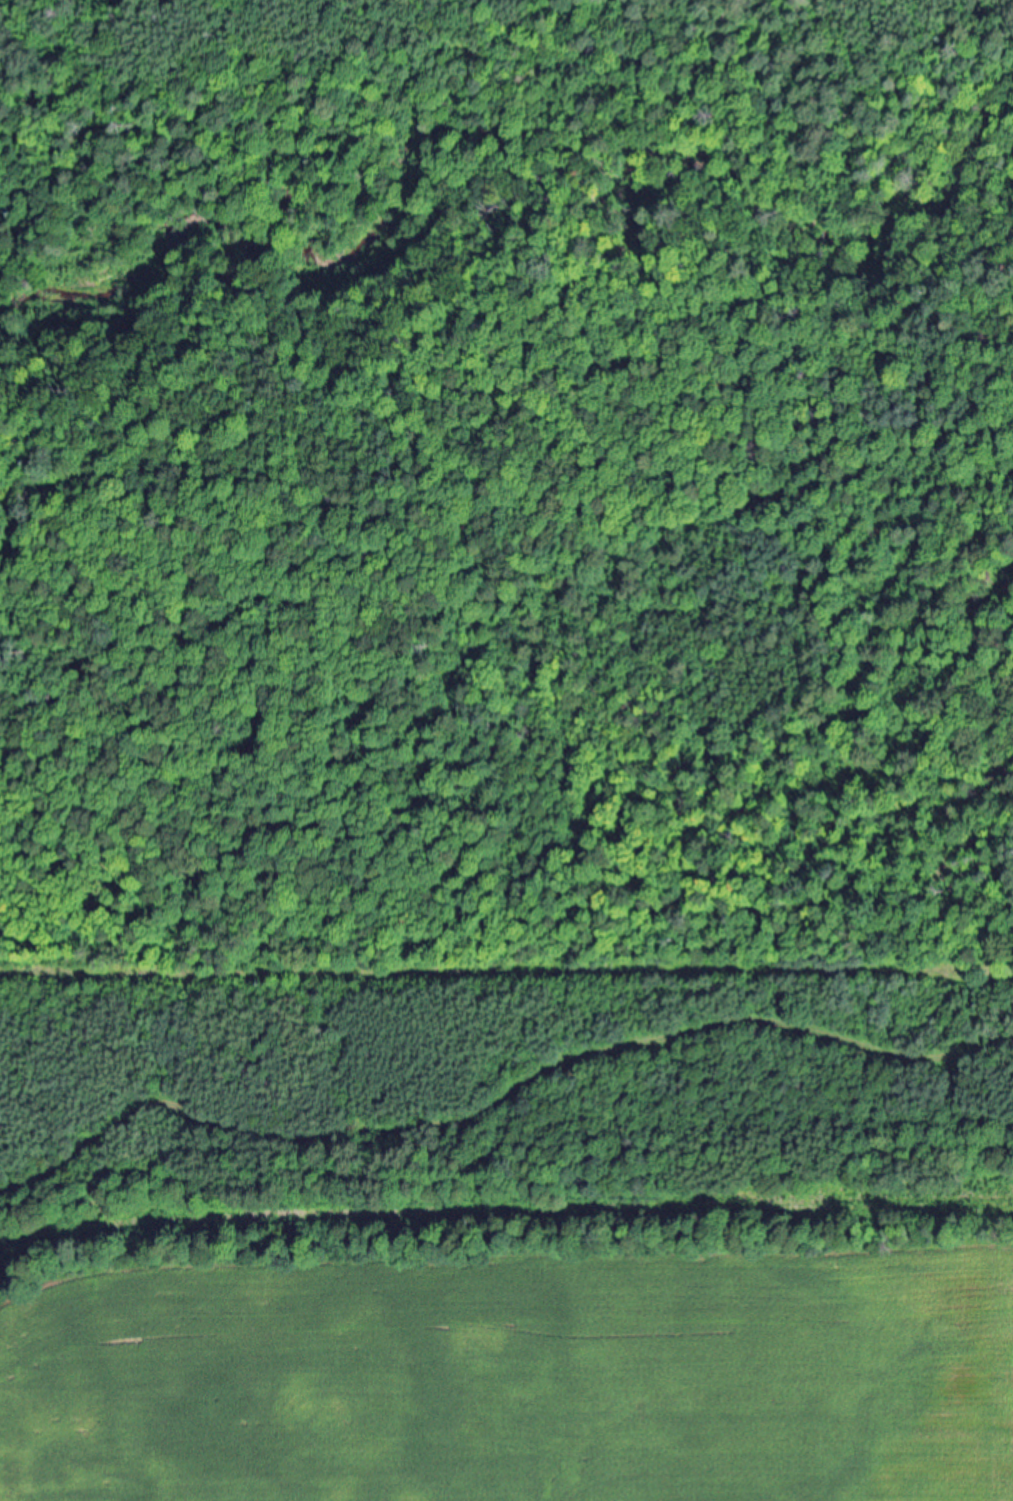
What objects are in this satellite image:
railway: (505, 1211)

